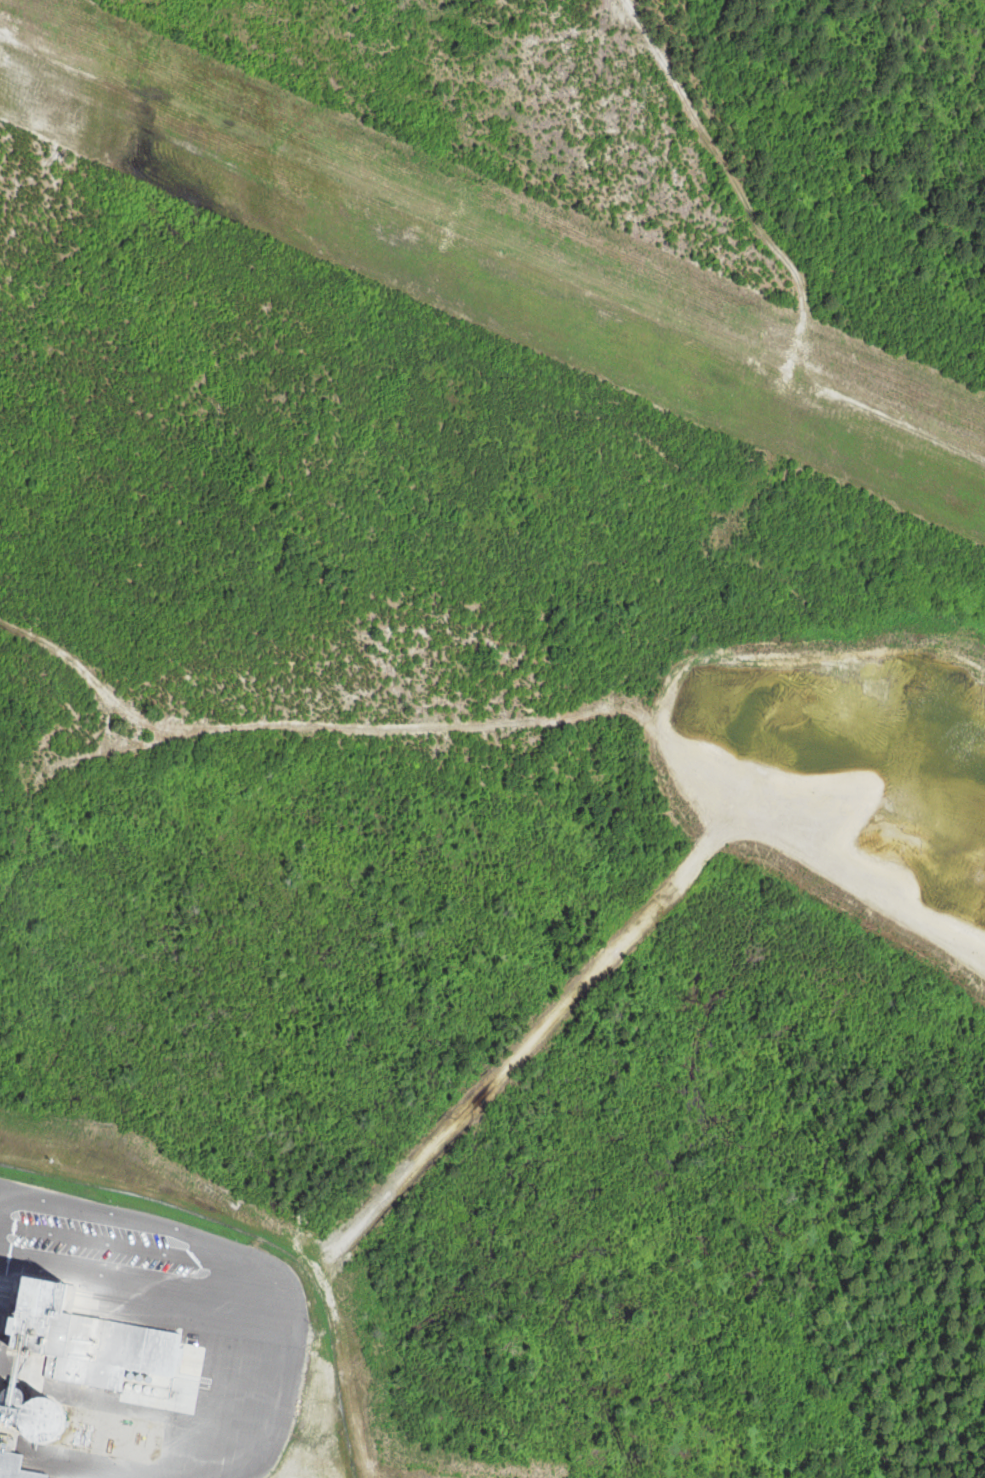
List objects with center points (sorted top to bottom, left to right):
road: (126, 1221)
road: (101, 1243)
parking lot: (104, 1243)
road: (110, 1273)
road: (247, 1418)

